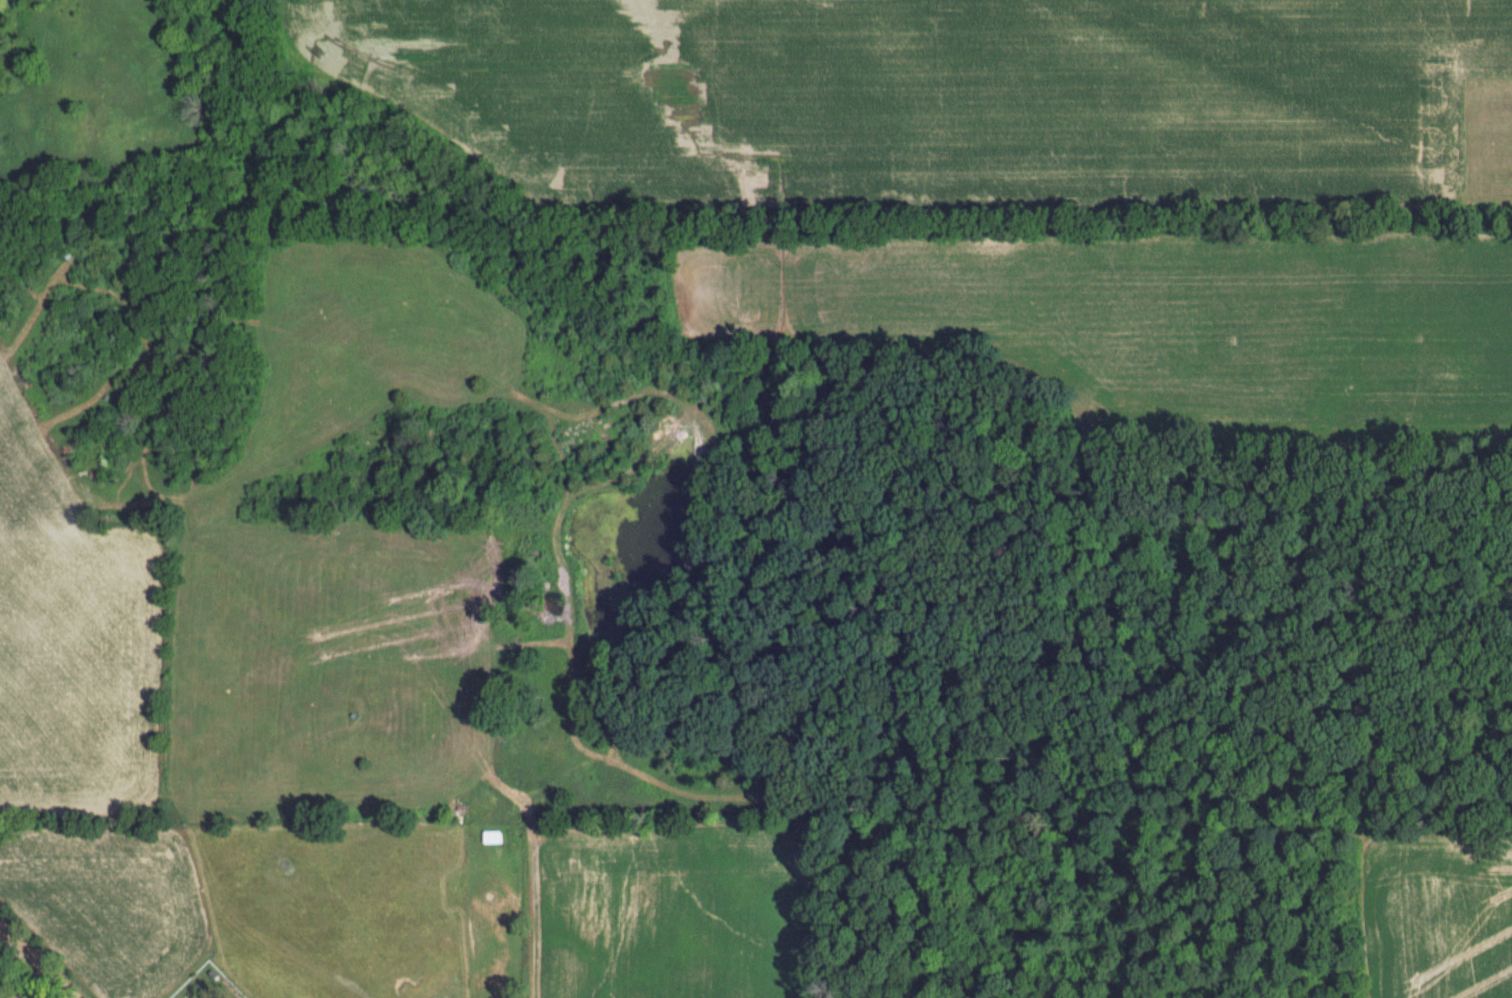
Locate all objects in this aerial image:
building: (490, 839)
road: (36, 961)
road: (27, 982)

